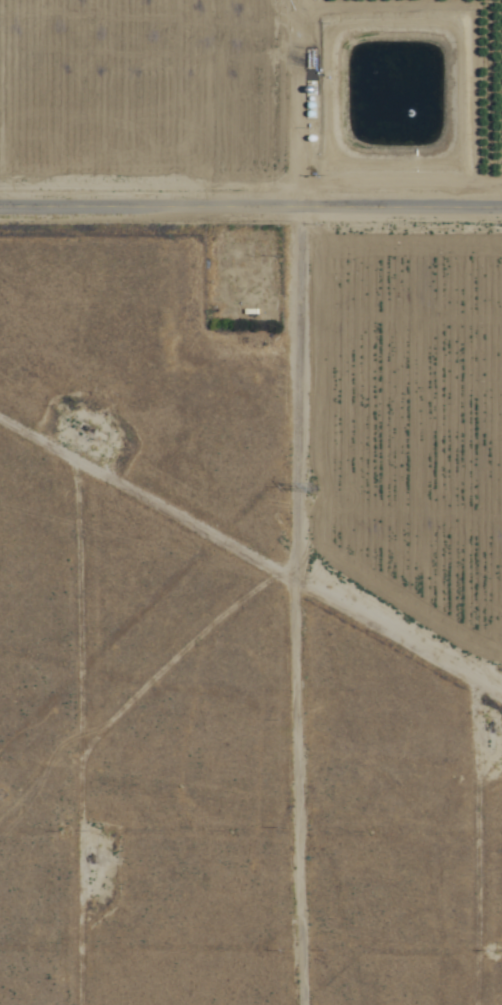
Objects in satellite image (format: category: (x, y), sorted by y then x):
road: (250, 208)
crop: (319, 236)
power tower: (315, 487)
road: (255, 502)
road: (248, 580)
road: (23, 736)
power tower: (3, 792)
road: (378, 832)

